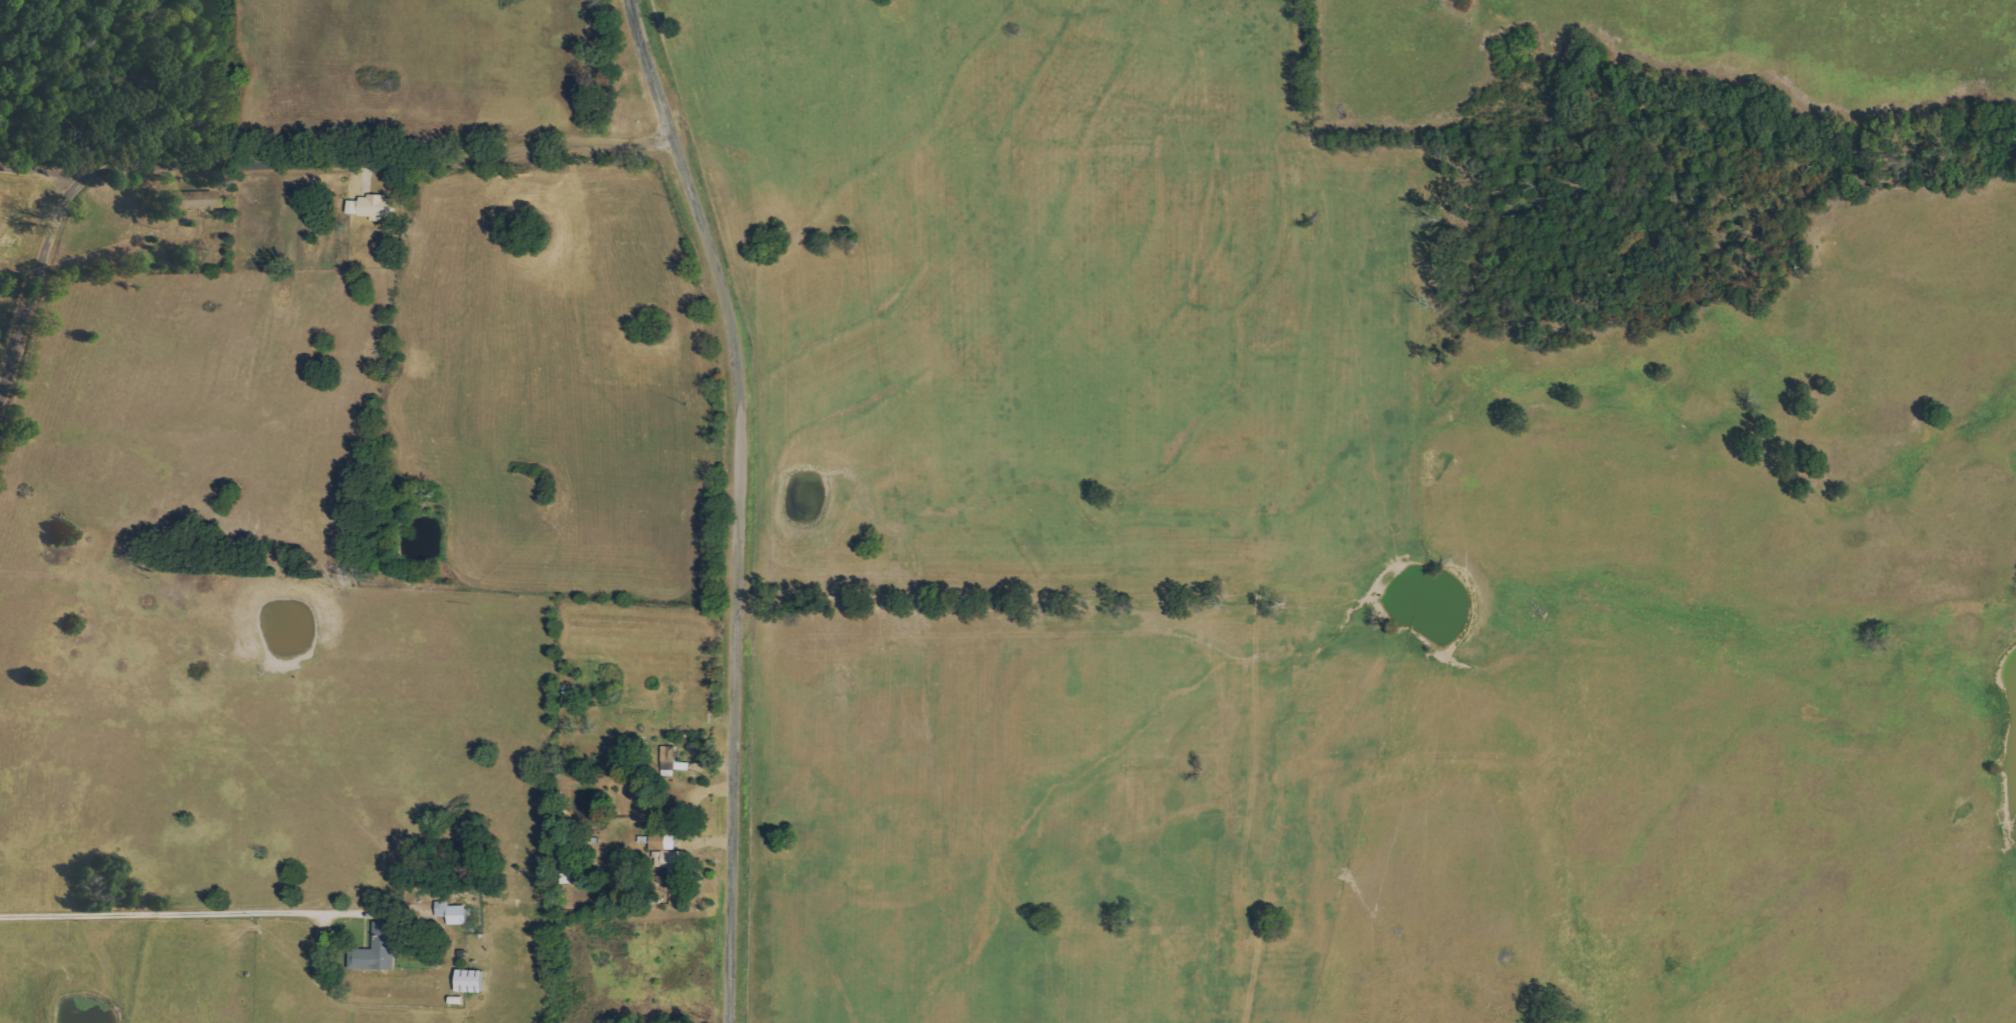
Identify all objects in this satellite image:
road: (46, 115)
road: (357, 168)
building: (198, 199)
building: (374, 206)
road: (36, 287)
road: (733, 494)
building: (672, 759)
building: (663, 841)
building: (675, 866)
road: (165, 911)
building: (454, 913)
building: (378, 950)
building: (472, 981)

